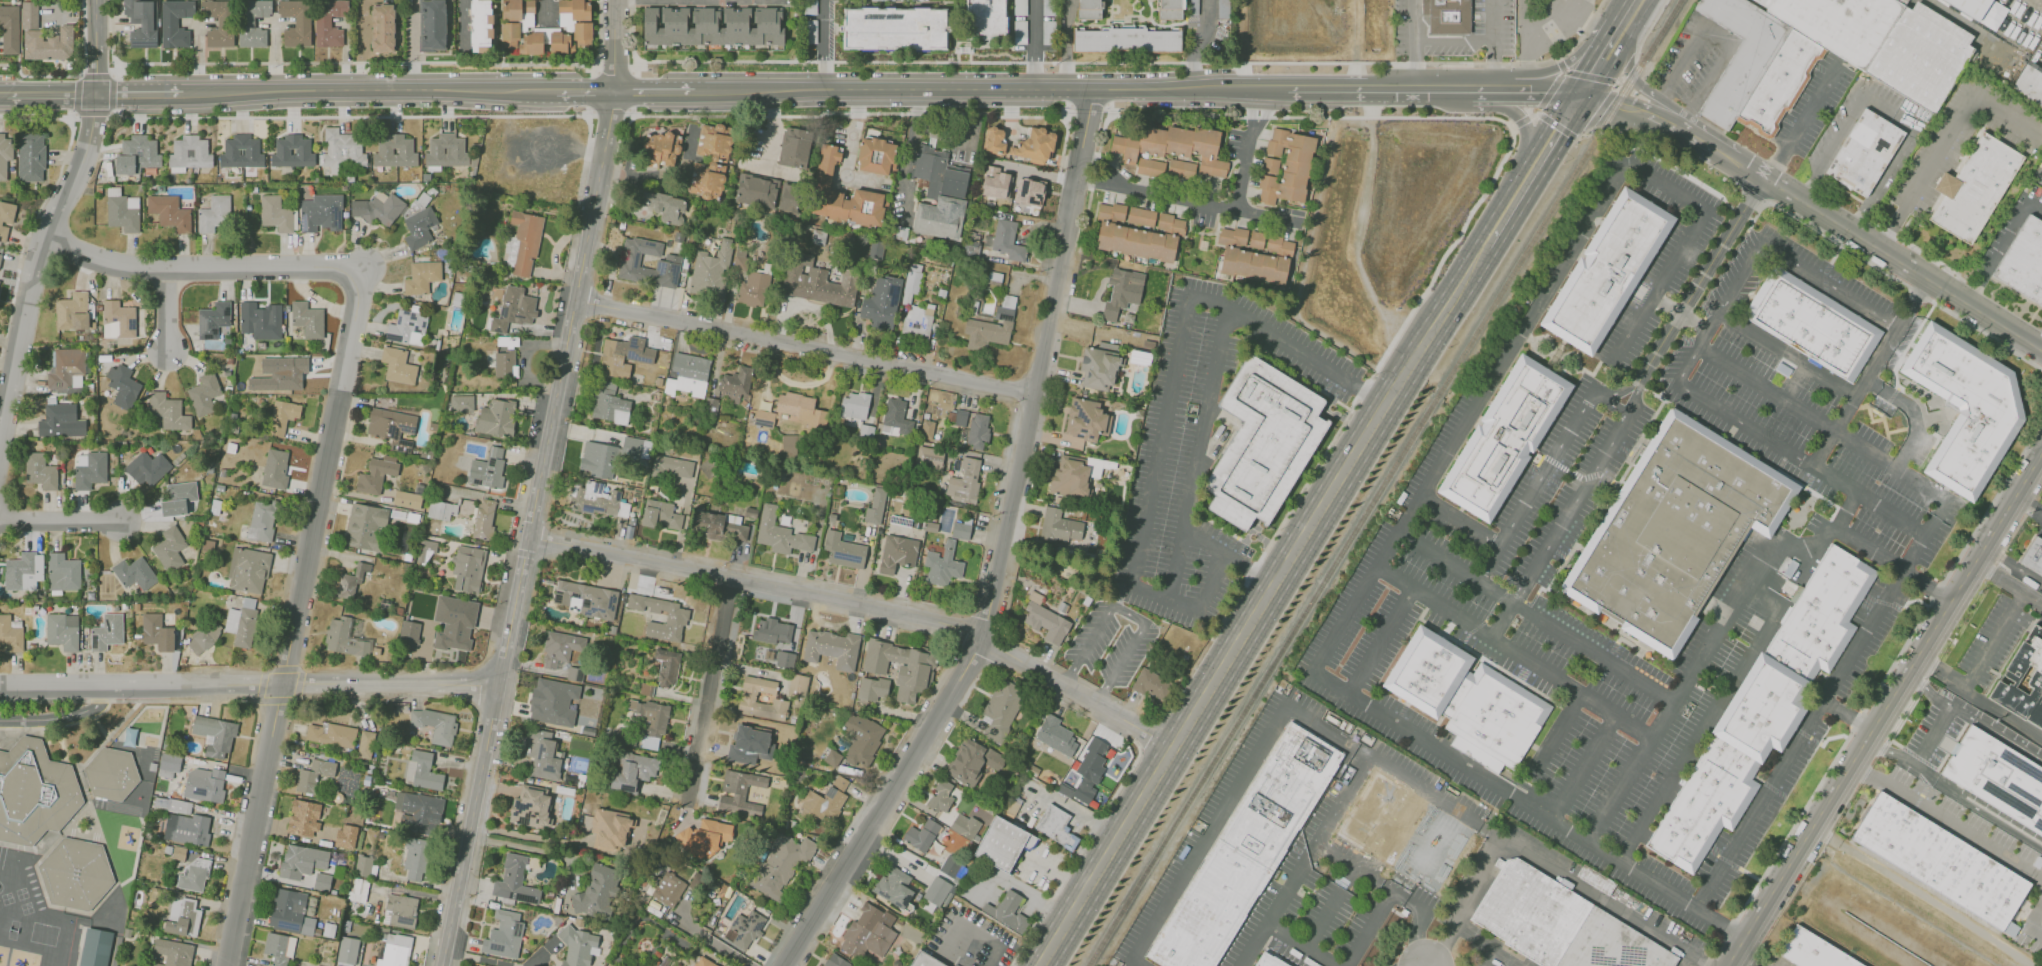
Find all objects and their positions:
building: (1023, 7)
building: (1969, 7)
building: (809, 8)
building: (1089, 9)
building: (1170, 9)
building: (1221, 9)
road: (546, 12)
road: (1639, 13)
building: (1446, 15)
building: (516, 17)
building: (985, 17)
road: (1544, 18)
road: (1490, 20)
building: (140, 21)
building: (328, 21)
road: (1414, 21)
building: (174, 22)
building: (218, 22)
building: (253, 22)
building: (295, 22)
road: (465, 22)
building: (432, 25)
building: (481, 26)
building: (712, 26)
building: (9, 28)
building: (382, 28)
building: (893, 28)
road: (1649, 28)
building: (579, 29)
building: (810, 31)
building: (1048, 32)
road: (111, 34)
building: (43, 36)
road: (79, 37)
road: (1721, 37)
road: (1453, 38)
building: (1126, 40)
road: (97, 45)
road: (826, 45)
road: (1035, 45)
road: (1066, 45)
road: (362, 46)
road: (615, 46)
road: (1203, 46)
building: (1824, 53)
road: (353, 62)
road: (1130, 62)
road: (1414, 62)
road: (1493, 62)
road: (1605, 62)
road: (1561, 65)
road: (615, 72)
road: (35, 75)
road: (1605, 80)
road: (1640, 83)
building: (2032, 83)
road: (1553, 85)
road: (48, 91)
traffic signals: (97, 91)
road: (130, 91)
road: (942, 91)
road: (1357, 91)
road: (1465, 91)
road: (1499, 91)
road: (1545, 91)
road: (389, 92)
traffic signals: (1579, 97)
road: (1087, 103)
road: (1601, 107)
road: (1630, 108)
road: (611, 110)
road: (75, 113)
road: (849, 113)
road: (1891, 114)
road: (350, 116)
road: (1306, 116)
road: (38, 118)
road: (1545, 118)
road: (1802, 122)
road: (1523, 124)
road: (771, 128)
road: (1581, 135)
road: (1084, 136)
building: (994, 139)
road: (1945, 140)
building: (712, 142)
building: (1033, 143)
building: (661, 147)
building: (794, 147)
road: (1708, 147)
road: (1830, 148)
road: (846, 149)
road: (908, 149)
building: (446, 150)
building: (292, 151)
building: (342, 151)
building: (395, 151)
building: (1171, 151)
road: (1255, 151)
building: (1865, 151)
building: (241, 152)
building: (5, 153)
building: (189, 153)
building: (137, 154)
building: (875, 156)
building: (30, 157)
building: (2041, 158)
road: (1659, 160)
building: (1287, 168)
road: (1531, 170)
road: (660, 172)
road: (1880, 181)
building: (994, 182)
building: (707, 183)
building: (1977, 187)
building: (756, 191)
building: (938, 193)
building: (842, 194)
building: (788, 197)
road: (1187, 201)
building: (667, 207)
building: (375, 210)
building: (168, 211)
building: (123, 212)
building: (320, 212)
road: (1592, 212)
road: (1743, 213)
building: (214, 214)
building: (276, 214)
building: (6, 219)
building: (419, 227)
building: (1137, 231)
road: (1359, 232)
building: (526, 240)
building: (1007, 240)
road: (2000, 245)
building: (0, 256)
road: (1891, 256)
building: (738, 257)
building: (1257, 257)
road: (1798, 259)
road: (38, 261)
building: (2025, 262)
building: (648, 263)
road: (1305, 265)
road: (201, 269)
building: (711, 269)
building: (1610, 273)
road: (1888, 274)
building: (421, 277)
building: (0, 280)
road: (1700, 283)
building: (819, 284)
building: (753, 289)
building: (1122, 292)
building: (881, 302)
building: (915, 306)
building: (514, 309)
building: (72, 311)
road: (165, 311)
road: (1680, 314)
building: (213, 319)
building: (118, 320)
building: (260, 320)
building: (306, 320)
building: (1814, 324)
building: (991, 326)
building: (407, 327)
road: (1708, 330)
road: (805, 349)
road: (1788, 355)
building: (623, 356)
building: (504, 363)
building: (397, 365)
road: (1688, 365)
building: (67, 369)
road: (1871, 372)
building: (280, 374)
building: (689, 374)
building: (734, 384)
building: (123, 386)
road: (1615, 392)
building: (204, 394)
road: (1168, 398)
road: (1631, 399)
building: (461, 402)
road: (1610, 402)
building: (609, 404)
building: (798, 408)
building: (853, 408)
building: (1968, 409)
building: (168, 412)
road: (1913, 414)
building: (282, 416)
building: (496, 417)
road: (1623, 417)
building: (763, 418)
building: (895, 418)
building: (1084, 419)
building: (60, 420)
road: (1343, 421)
road: (1823, 424)
building: (392, 426)
building: (973, 427)
building: (926, 429)
building: (1507, 440)
building: (789, 444)
building: (1266, 444)
building: (634, 448)
road: (1196, 455)
building: (929, 457)
building: (597, 459)
road: (1802, 460)
building: (672, 467)
building: (148, 468)
building: (487, 468)
building: (89, 469)
building: (275, 469)
building: (40, 471)
building: (376, 474)
building: (1073, 477)
building: (964, 481)
railway: (1368, 482)
railway: (1377, 482)
railway: (1384, 482)
road: (1538, 486)
building: (178, 498)
building: (407, 499)
building: (596, 499)
building: (875, 506)
road: (1844, 507)
road: (2028, 507)
building: (441, 509)
road: (1567, 512)
building: (661, 515)
building: (484, 518)
road: (60, 521)
building: (261, 521)
road: (1460, 521)
building: (717, 525)
building: (365, 526)
road: (529, 529)
building: (961, 530)
building: (1677, 532)
building: (780, 533)
road: (1804, 545)
building: (169, 548)
building: (425, 550)
building: (843, 550)
building: (897, 553)
road: (1229, 556)
building: (2033, 558)
road: (1893, 561)
road: (1455, 564)
building: (942, 565)
road: (2013, 565)
building: (467, 568)
building: (248, 570)
building: (23, 571)
building: (63, 572)
building: (134, 573)
road: (1367, 578)
building: (351, 581)
road: (2008, 584)
road: (1761, 595)
road: (988, 596)
building: (586, 598)
road: (1263, 605)
road: (864, 607)
road: (1131, 613)
road: (293, 616)
building: (675, 617)
building: (1044, 618)
road: (1501, 618)
building: (242, 622)
building: (454, 623)
building: (62, 631)
building: (773, 631)
building: (107, 632)
building: (157, 632)
building: (10, 635)
building: (409, 635)
building: (203, 638)
building: (345, 638)
road: (1991, 639)
road: (1381, 643)
building: (560, 648)
building: (832, 648)
road: (1515, 649)
road: (1593, 651)
building: (765, 653)
building: (785, 659)
building: (667, 666)
building: (900, 667)
building: (575, 673)
building: (2024, 683)
building: (1152, 684)
road: (320, 685)
building: (797, 685)
road: (72, 688)
building: (872, 688)
road: (709, 690)
road: (1678, 695)
road: (1893, 695)
building: (747, 697)
road: (1978, 699)
building: (553, 702)
building: (1472, 702)
road: (1823, 704)
building: (1768, 707)
building: (1001, 709)
road: (1849, 714)
road: (59, 718)
road: (1973, 719)
building: (650, 721)
building: (432, 726)
road: (1929, 732)
building: (331, 734)
road: (1151, 734)
road: (1699, 734)
building: (129, 736)
building: (215, 736)
building: (1057, 736)
building: (862, 739)
building: (750, 743)
building: (365, 744)
road: (1888, 751)
building: (542, 756)
building: (832, 758)
building: (972, 761)
building: (168, 765)
road: (1584, 767)
building: (1091, 768)
building: (422, 771)
building: (633, 771)
road: (1930, 774)
building: (112, 775)
building: (314, 775)
building: (1998, 778)
building: (839, 782)
building: (204, 784)
building: (739, 793)
building: (35, 794)
building: (940, 796)
building: (822, 803)
road: (1524, 803)
building: (172, 805)
building: (530, 807)
building: (419, 812)
building: (303, 817)
road: (1946, 821)
road: (1995, 821)
building: (964, 825)
building: (1056, 826)
building: (186, 829)
building: (609, 829)
building: (1411, 832)
road: (1210, 833)
building: (921, 835)
building: (346, 836)
road: (1497, 836)
road: (535, 837)
building: (705, 838)
building: (1002, 843)
road: (527, 847)
road: (1077, 851)
building: (1249, 851)
building: (415, 857)
building: (301, 861)
road: (1303, 861)
building: (1943, 862)
building: (780, 864)
building: (363, 865)
building: (952, 868)
building: (77, 874)
building: (194, 874)
building: (322, 881)
building: (893, 886)
road: (1394, 888)
building: (358, 889)
building: (668, 889)
building: (598, 890)
building: (938, 891)
road: (420, 893)
road: (1924, 896)
road: (1466, 904)
building: (928, 906)
road: (1326, 906)
building: (401, 910)
building: (293, 911)
building: (1006, 911)
park: (1891, 915)
building: (182, 917)
building: (1562, 924)
road: (1369, 927)
building: (745, 929)
building: (868, 932)
building: (504, 935)
road: (715, 941)
road: (1296, 945)
building: (578, 946)
building: (98, 947)
building: (278, 948)
building: (347, 950)
building: (395, 950)
road: (1736, 951)
building: (1815, 951)
building: (175, 952)
road: (539, 956)
road: (1484, 956)
road: (1749, 958)
road: (479, 959)
building: (1271, 960)
building: (835, 961)
building: (926, 961)
building: (705, 962)
road: (1136, 963)
building: (155, 965)
building: (336, 965)

